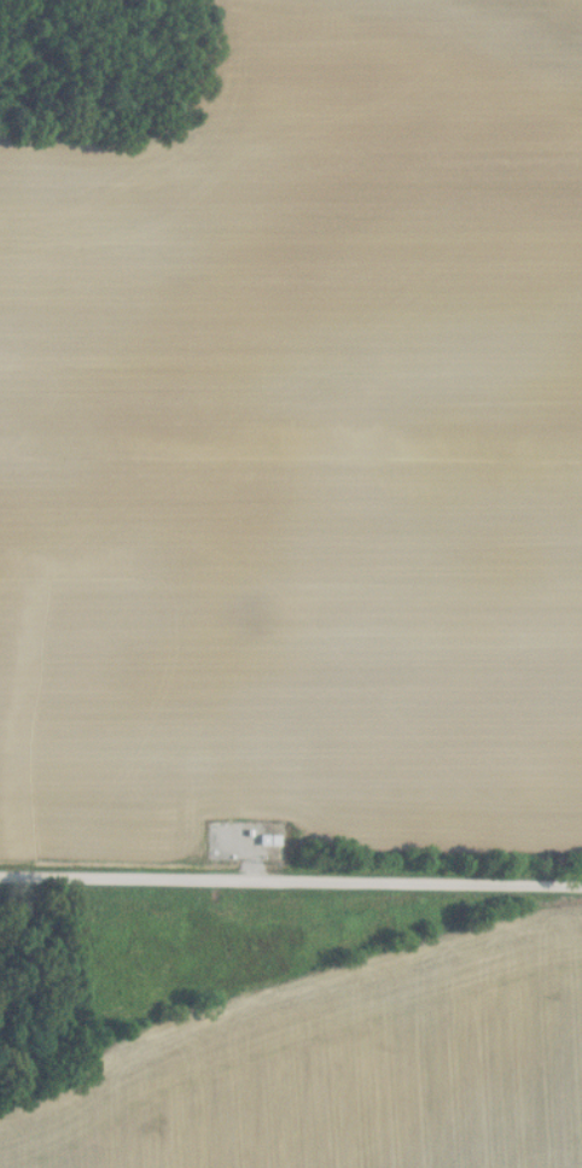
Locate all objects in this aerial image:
road: (290, 883)

